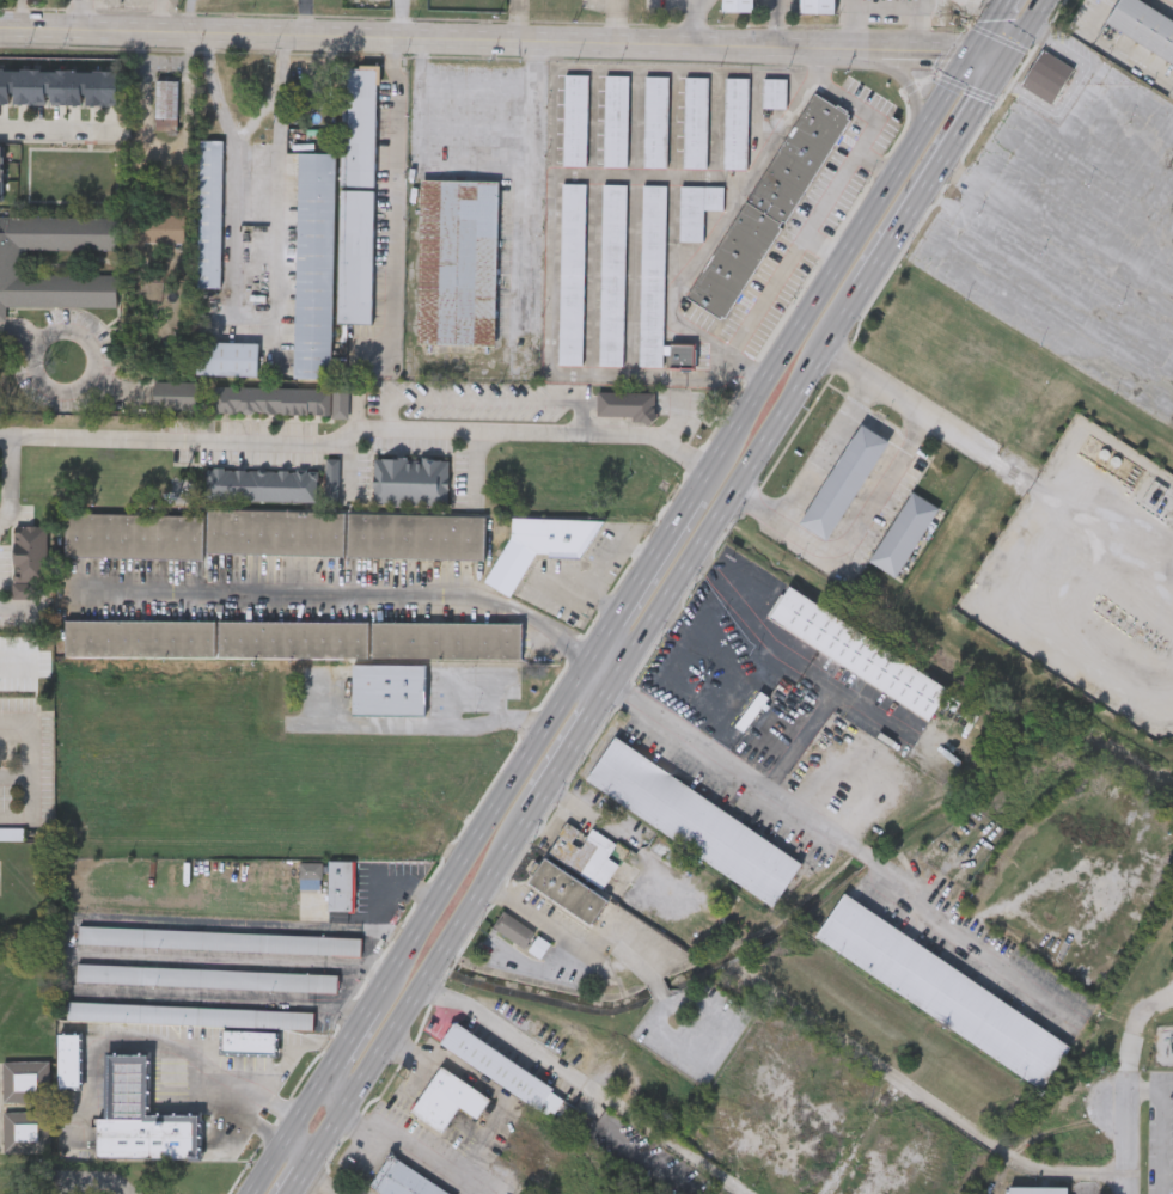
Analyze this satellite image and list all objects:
building: (735, 6)
building: (817, 6)
road: (79, 13)
road: (161, 14)
road: (304, 16)
road: (402, 18)
road: (694, 18)
road: (615, 19)
road: (778, 22)
road: (854, 23)
road: (923, 24)
road: (991, 24)
building: (1144, 26)
road: (1025, 31)
road: (503, 37)
road: (1113, 49)
traffic signals: (976, 50)
traffic signals: (1006, 63)
building: (1045, 76)
road: (1107, 76)
road: (908, 79)
building: (57, 87)
road: (1070, 87)
building: (774, 93)
building: (308, 96)
road: (444, 104)
building: (574, 120)
building: (615, 121)
building: (654, 121)
building: (695, 122)
building: (734, 123)
building: (358, 125)
road: (57, 130)
road: (1065, 136)
road: (878, 163)
building: (1, 174)
road: (961, 176)
road: (924, 189)
road: (396, 190)
road: (532, 190)
road: (943, 204)
building: (768, 207)
building: (696, 209)
road: (820, 212)
building: (208, 213)
road: (719, 224)
road: (825, 246)
road: (1076, 246)
road: (1153, 246)
building: (354, 257)
building: (11, 261)
building: (457, 262)
building: (312, 265)
road: (839, 265)
building: (570, 274)
building: (611, 275)
building: (655, 287)
road: (1019, 312)
road: (250, 323)
road: (41, 333)
building: (227, 357)
building: (173, 396)
building: (270, 399)
building: (627, 404)
road: (365, 425)
road: (6, 433)
road: (826, 449)
road: (10, 479)
building: (408, 480)
road: (1033, 480)
building: (842, 482)
building: (259, 484)
road: (886, 485)
building: (1151, 485)
road: (731, 495)
building: (344, 533)
building: (902, 533)
building: (133, 535)
building: (540, 547)
road: (649, 572)
road: (344, 593)
road: (674, 601)
road: (23, 604)
road: (698, 624)
building: (293, 639)
building: (855, 651)
road: (789, 655)
road: (606, 668)
building: (1168, 680)
building: (387, 688)
road: (728, 692)
road: (502, 712)
road: (800, 743)
road: (572, 745)
road: (29, 754)
building: (691, 821)
road: (839, 852)
building: (584, 853)
building: (311, 869)
building: (342, 884)
building: (567, 890)
road: (422, 927)
building: (526, 933)
building: (221, 939)
road: (73, 942)
road: (234, 961)
road: (548, 970)
road: (654, 975)
building: (207, 976)
road: (420, 987)
building: (941, 990)
building: (190, 1014)
road: (502, 1025)
building: (248, 1041)
road: (133, 1043)
road: (356, 1054)
building: (67, 1060)
building: (501, 1070)
building: (26, 1082)
road: (918, 1092)
road: (243, 1097)
building: (447, 1098)
building: (139, 1116)
road: (1163, 1116)
building: (26, 1131)
road: (483, 1139)
road: (1123, 1145)
road: (300, 1149)
road: (301, 1175)
building: (401, 1180)
road: (314, 1183)
building: (1035, 1189)
road: (1080, 1193)

